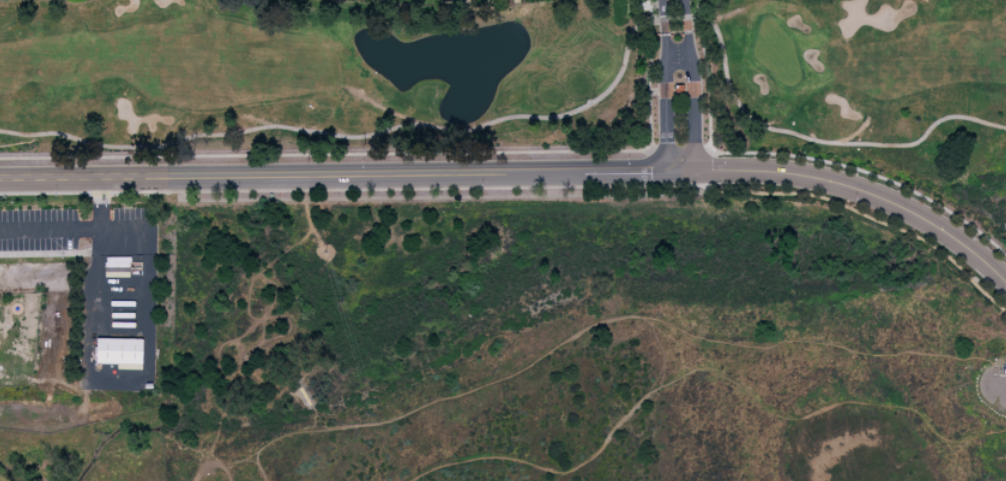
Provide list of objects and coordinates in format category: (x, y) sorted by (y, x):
road: (663, 48)
park: (326, 73)
park: (859, 82)
road: (690, 85)
road: (664, 136)
road: (679, 151)
road: (326, 154)
road: (594, 170)
road: (253, 174)
road: (352, 188)
road: (856, 189)
road: (869, 217)
road: (77, 229)
parking lot: (80, 231)
road: (610, 321)
building: (120, 352)
road: (701, 369)
parking lot: (990, 381)
road: (98, 383)
road: (1003, 390)

